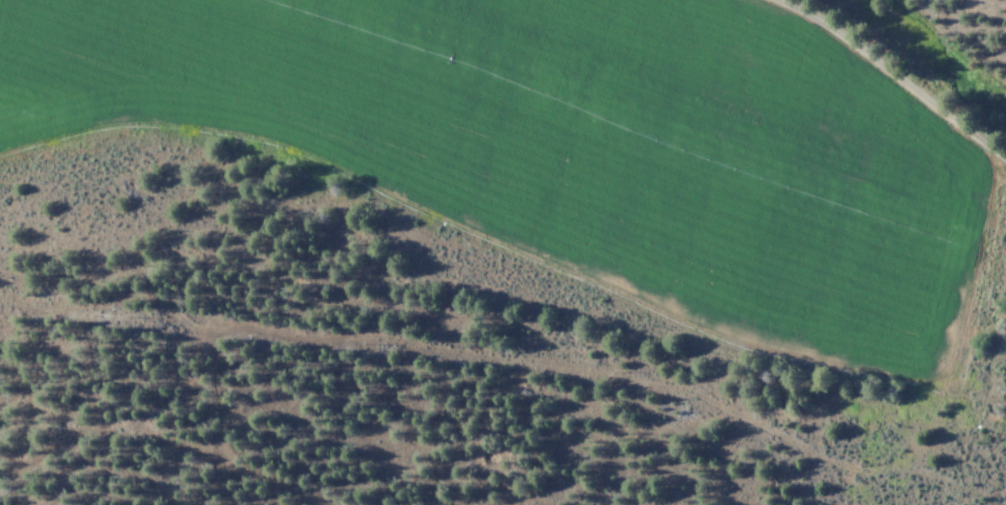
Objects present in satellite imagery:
road: (894, 71)

